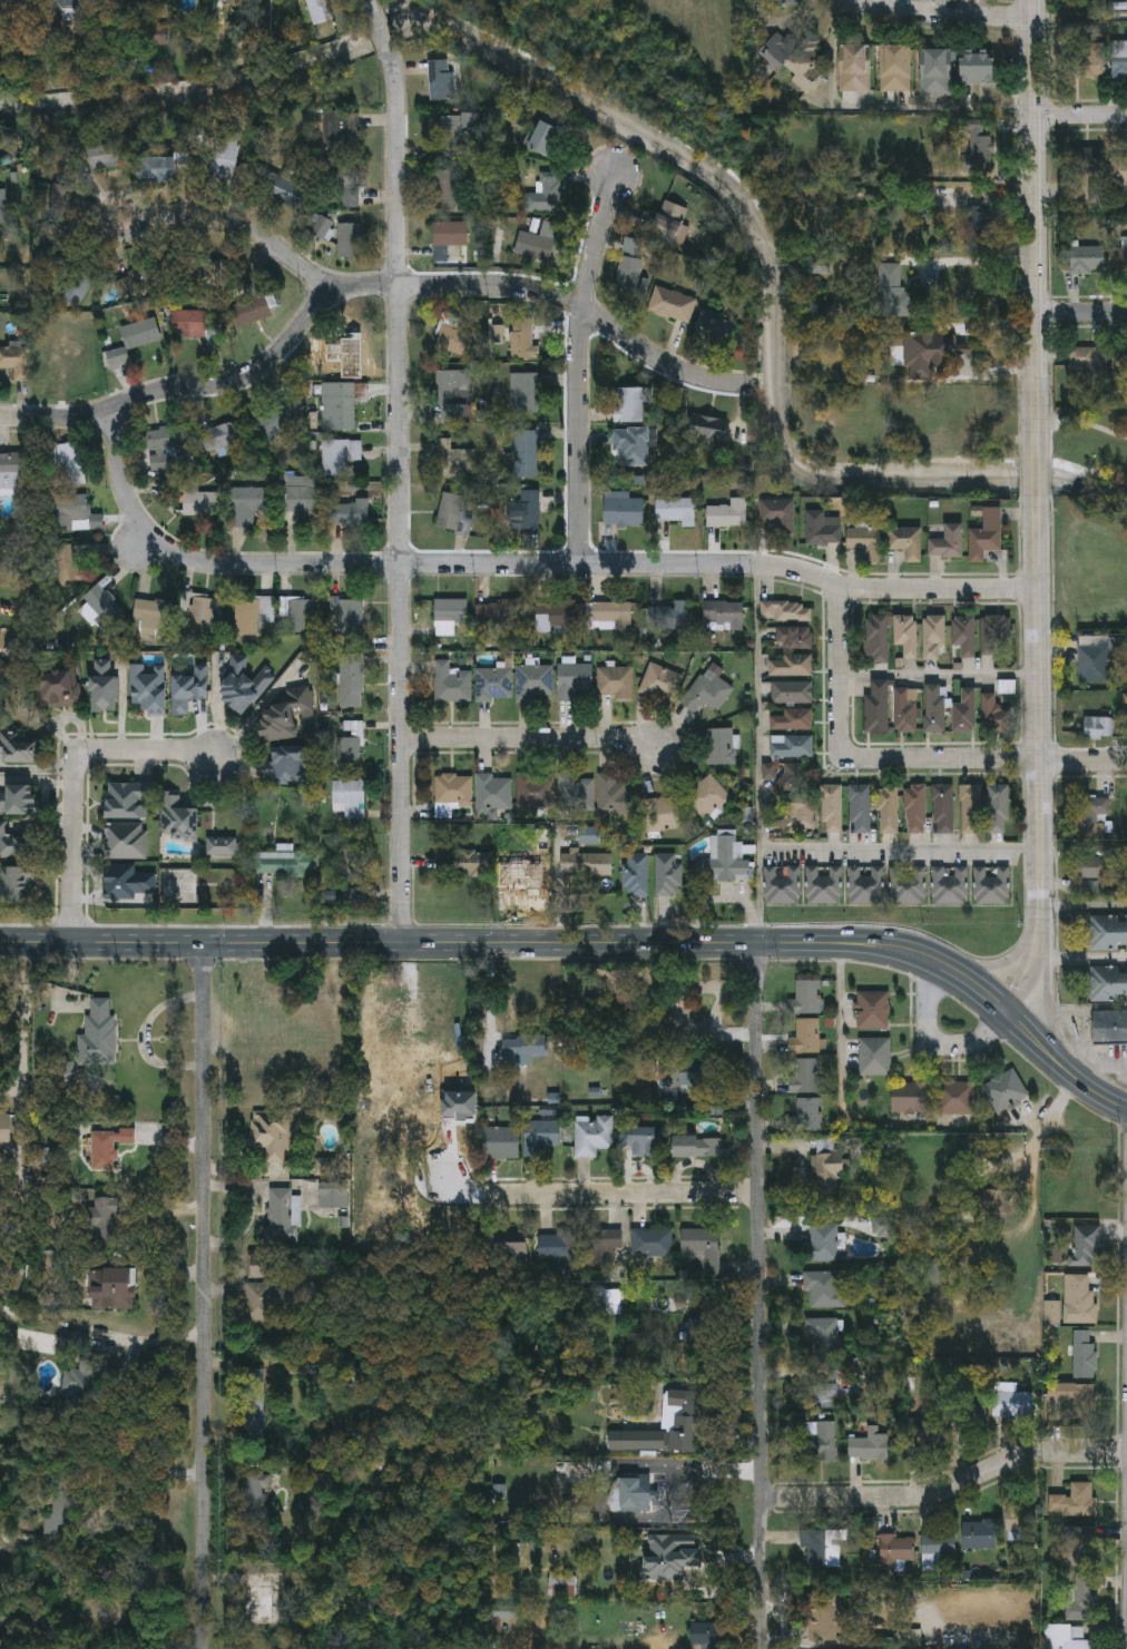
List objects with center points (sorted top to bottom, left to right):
building: (318, 11)
road: (950, 14)
building: (61, 16)
building: (794, 60)
building: (1120, 60)
building: (1090, 61)
building: (855, 69)
building: (895, 70)
building: (978, 70)
building: (937, 73)
building: (442, 81)
road: (1080, 114)
building: (455, 131)
building: (341, 132)
building: (549, 141)
building: (104, 157)
building: (226, 157)
building: (1089, 160)
building: (1120, 170)
building: (158, 171)
building: (344, 189)
building: (448, 190)
building: (283, 193)
building: (547, 195)
building: (2, 208)
building: (670, 223)
building: (323, 229)
road: (1035, 229)
building: (451, 236)
building: (350, 243)
building: (539, 244)
building: (1088, 262)
road: (982, 263)
building: (1118, 263)
building: (631, 266)
building: (182, 268)
building: (138, 281)
road: (435, 284)
building: (77, 288)
building: (892, 292)
building: (674, 306)
road: (1080, 312)
building: (249, 313)
building: (186, 325)
building: (715, 331)
building: (525, 341)
building: (133, 342)
building: (455, 343)
building: (67, 349)
building: (924, 353)
building: (342, 355)
building: (1086, 360)
building: (17, 363)
road: (581, 364)
building: (1119, 364)
road: (243, 377)
building: (520, 394)
building: (453, 400)
building: (630, 405)
building: (341, 408)
road: (61, 415)
building: (277, 420)
road: (1082, 424)
building: (707, 435)
building: (220, 438)
building: (165, 446)
building: (631, 448)
building: (525, 452)
building: (340, 457)
building: (454, 460)
building: (71, 465)
road: (400, 468)
building: (11, 473)
road: (1037, 478)
building: (301, 497)
building: (203, 506)
building: (246, 507)
building: (529, 511)
building: (624, 511)
building: (72, 512)
building: (676, 513)
building: (455, 514)
building: (349, 516)
building: (728, 516)
building: (781, 516)
park: (1089, 518)
building: (823, 530)
building: (987, 536)
building: (866, 543)
building: (906, 543)
building: (949, 544)
road: (526, 561)
building: (69, 567)
building: (105, 608)
building: (450, 612)
building: (786, 614)
building: (503, 615)
building: (154, 616)
building: (203, 616)
building: (253, 616)
building: (611, 617)
building: (670, 617)
building: (725, 617)
building: (300, 618)
building: (347, 618)
building: (556, 618)
building: (994, 634)
building: (906, 637)
building: (966, 637)
building: (794, 639)
building: (878, 639)
building: (934, 639)
building: (1095, 662)
building: (792, 667)
road: (940, 675)
building: (574, 681)
building: (57, 684)
building: (244, 684)
building: (352, 684)
building: (616, 684)
building: (659, 684)
building: (452, 685)
building: (535, 685)
building: (494, 686)
building: (105, 688)
building: (148, 690)
building: (190, 691)
building: (707, 694)
building: (792, 694)
building: (878, 709)
building: (935, 710)
building: (905, 713)
building: (966, 713)
building: (996, 716)
building: (286, 717)
building: (793, 722)
building: (1098, 729)
road: (533, 737)
building: (350, 747)
building: (723, 748)
building: (792, 748)
building: (20, 750)
road: (758, 750)
road: (1040, 759)
road: (899, 763)
building: (290, 766)
road: (77, 779)
building: (790, 781)
building: (453, 792)
building: (535, 792)
building: (494, 794)
building: (577, 795)
building: (614, 797)
building: (707, 798)
building: (350, 799)
building: (19, 802)
building: (130, 802)
building: (831, 809)
building: (860, 809)
building: (915, 809)
building: (944, 809)
building: (971, 809)
building: (999, 809)
building: (888, 811)
building: (805, 814)
building: (661, 815)
building: (1091, 815)
building: (784, 819)
building: (180, 821)
building: (589, 835)
building: (127, 843)
building: (222, 845)
building: (16, 846)
road: (900, 847)
building: (726, 861)
building: (464, 864)
building: (288, 865)
building: (590, 866)
building: (1091, 874)
building: (668, 875)
building: (635, 876)
building: (129, 884)
building: (824, 885)
building: (17, 886)
building: (782, 886)
building: (866, 886)
building: (909, 886)
building: (950, 886)
building: (991, 887)
road: (1084, 907)
building: (1108, 934)
road: (494, 941)
road: (1082, 956)
building: (1108, 985)
building: (804, 995)
road: (1000, 999)
building: (872, 1009)
road: (27, 1024)
building: (1110, 1028)
road: (1079, 1030)
building: (97, 1034)
building: (804, 1035)
road: (938, 1042)
building: (522, 1048)
building: (875, 1056)
building: (413, 1059)
road: (1067, 1069)
building: (685, 1071)
building: (804, 1074)
road: (1099, 1076)
building: (1004, 1091)
building: (911, 1096)
building: (955, 1097)
building: (807, 1113)
building: (4, 1129)
building: (540, 1135)
building: (590, 1135)
building: (268, 1137)
building: (639, 1140)
building: (501, 1141)
building: (107, 1146)
building: (695, 1146)
building: (825, 1170)
road: (624, 1194)
building: (333, 1196)
building: (1000, 1199)
building: (278, 1213)
road: (958, 1216)
building: (101, 1217)
building: (650, 1241)
building: (824, 1241)
building: (697, 1243)
building: (556, 1245)
building: (1086, 1246)
building: (597, 1247)
building: (509, 1249)
building: (263, 1265)
building: (111, 1286)
building: (824, 1287)
road: (206, 1295)
road: (759, 1295)
building: (1079, 1299)
building: (257, 1302)
building: (824, 1333)
building: (698, 1335)
road: (150, 1343)
building: (1084, 1353)
building: (75, 1382)
building: (823, 1395)
building: (1072, 1396)
building: (253, 1401)
building: (1013, 1404)
building: (683, 1411)
building: (969, 1412)
building: (923, 1433)
building: (819, 1440)
building: (869, 1443)
building: (255, 1489)
road: (945, 1489)
building: (628, 1494)
building: (1074, 1501)
building: (1019, 1514)
building: (979, 1534)
building: (679, 1542)
building: (649, 1544)
building: (1078, 1545)
building: (824, 1548)
building: (895, 1551)
building: (937, 1551)
building: (556, 1584)
building: (1082, 1597)
building: (820, 1609)
building: (501, 1614)
building: (706, 1635)
building: (905, 1637)
building: (1068, 1638)

